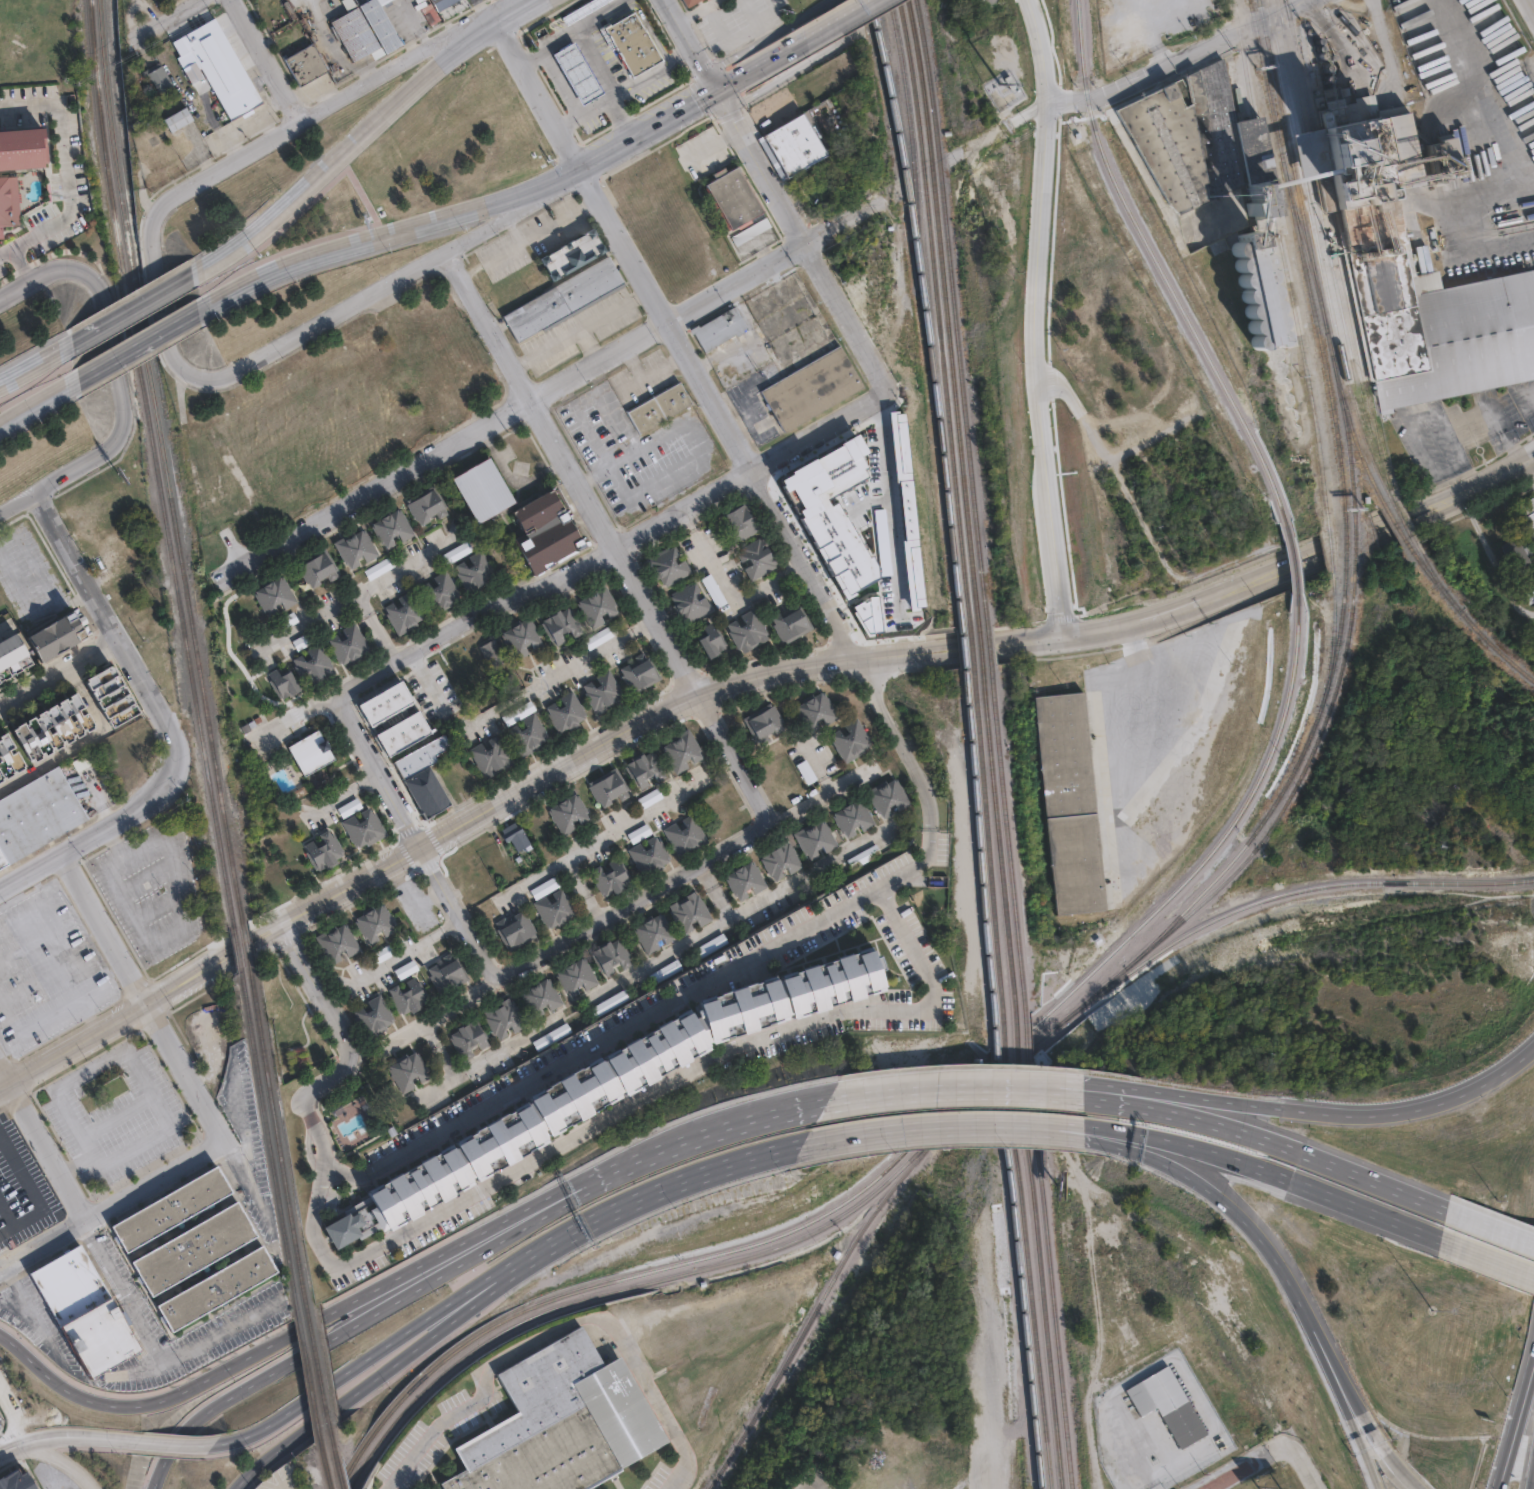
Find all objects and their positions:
building: (690, 2)
building: (448, 4)
road: (1530, 5)
road: (517, 10)
building: (583, 10)
road: (175, 18)
building: (370, 29)
road: (572, 29)
railway: (1352, 34)
road: (821, 37)
power tower: (1528, 38)
building: (630, 41)
road: (697, 48)
road: (677, 54)
road: (1177, 56)
road: (273, 62)
building: (310, 62)
building: (223, 66)
building: (192, 73)
building: (577, 74)
gas station: (577, 74)
building: (157, 79)
road: (641, 82)
road: (741, 85)
road: (613, 88)
road: (540, 93)
traffic signals: (725, 97)
road: (328, 113)
road: (583, 114)
road: (1490, 117)
building: (176, 120)
railway: (101, 126)
road: (655, 135)
railway: (899, 138)
building: (791, 144)
building: (20, 145)
railway: (1289, 151)
road: (349, 152)
road: (69, 171)
building: (1209, 175)
building: (730, 195)
building: (9, 200)
building: (1374, 225)
road: (545, 227)
road: (1453, 233)
road: (396, 235)
railway: (1333, 236)
building: (755, 238)
road: (807, 239)
railway: (1304, 242)
railway: (1327, 251)
building: (570, 252)
railway: (1319, 252)
railway: (1301, 254)
railway: (1155, 265)
road: (19, 266)
road: (405, 279)
building: (563, 297)
road: (170, 309)
railway: (955, 311)
railway: (937, 312)
railway: (947, 312)
railway: (925, 313)
road: (136, 314)
road: (1034, 317)
railway: (132, 322)
road: (583, 328)
building: (718, 329)
railway: (1328, 337)
road: (589, 346)
road: (151, 348)
road: (115, 356)
road: (38, 367)
railway: (1305, 373)
road: (648, 374)
building: (400, 377)
road: (553, 387)
building: (812, 387)
road: (41, 405)
building: (660, 406)
road: (720, 411)
road: (1500, 433)
railway: (1346, 440)
railway: (1354, 440)
road: (1530, 457)
railway: (163, 461)
road: (1530, 465)
road: (1493, 475)
road: (513, 481)
building: (485, 489)
road: (18, 505)
building: (425, 508)
road: (884, 508)
railway: (1397, 509)
building: (828, 512)
railway: (1401, 520)
building: (740, 521)
building: (1527, 521)
railway: (1395, 524)
building: (389, 529)
building: (548, 530)
railway: (1353, 535)
railway: (1344, 536)
road: (615, 537)
railway: (1328, 540)
building: (353, 547)
road: (1327, 550)
building: (455, 552)
building: (758, 556)
railway: (1291, 558)
road: (1491, 558)
building: (113, 562)
building: (669, 564)
road: (78, 566)
building: (378, 567)
road: (583, 568)
building: (1519, 568)
road: (35, 569)
building: (315, 570)
railway: (1430, 570)
building: (473, 578)
building: (712, 590)
building: (437, 591)
road: (363, 592)
building: (272, 595)
building: (688, 600)
building: (1530, 602)
building: (596, 604)
road: (33, 613)
building: (401, 613)
railway: (1465, 616)
building: (789, 619)
road: (308, 624)
building: (561, 625)
railway: (1333, 628)
road: (5, 629)
building: (746, 629)
building: (55, 633)
building: (521, 635)
building: (599, 637)
building: (713, 638)
building: (347, 644)
railway: (987, 644)
railway: (979, 645)
railway: (970, 646)
railway: (961, 647)
building: (492, 652)
building: (13, 658)
railway: (188, 658)
building: (311, 664)
building: (639, 669)
road: (60, 672)
building: (283, 684)
road: (710, 688)
building: (601, 691)
building: (109, 692)
road: (152, 699)
building: (386, 702)
building: (567, 710)
building: (814, 711)
building: (764, 723)
building: (50, 725)
building: (528, 734)
building: (851, 738)
building: (1219, 739)
building: (681, 750)
building: (308, 752)
building: (493, 753)
building: (7, 756)
building: (84, 762)
building: (644, 768)
building: (805, 771)
road: (918, 777)
railway: (1287, 780)
building: (424, 783)
building: (607, 786)
building: (648, 798)
building: (889, 799)
building: (1069, 811)
building: (569, 812)
building: (37, 814)
building: (853, 818)
railway: (1271, 824)
building: (363, 826)
building: (639, 832)
building: (686, 834)
road: (94, 835)
building: (513, 836)
road: (603, 837)
building: (815, 839)
railway: (1006, 841)
road: (415, 844)
railway: (998, 845)
building: (321, 849)
railway: (988, 851)
railway: (980, 853)
building: (651, 854)
building: (864, 856)
building: (779, 862)
building: (612, 877)
road: (530, 880)
building: (745, 880)
road: (714, 894)
railway: (1283, 894)
building: (557, 907)
road: (628, 908)
building: (688, 912)
road: (736, 916)
railway: (1148, 916)
building: (372, 923)
building: (518, 929)
building: (653, 931)
building: (335, 943)
railway: (246, 944)
building: (711, 944)
railway: (236, 948)
road: (912, 948)
building: (382, 953)
road: (406, 953)
building: (610, 955)
building: (405, 969)
building: (665, 971)
building: (445, 973)
building: (576, 976)
building: (410, 994)
building: (540, 997)
road: (141, 998)
building: (610, 1002)
road: (139, 1005)
road: (51, 1013)
building: (372, 1017)
building: (503, 1019)
building: (552, 1036)
building: (467, 1037)
road: (600, 1039)
railway: (1026, 1039)
road: (347, 1047)
railway: (1018, 1047)
road: (117, 1055)
road: (363, 1058)
railway: (1006, 1058)
railway: (997, 1063)
railway: (1007, 1068)
building: (409, 1071)
building: (599, 1085)
road: (961, 1085)
road: (1095, 1091)
road: (1147, 1104)
road: (1324, 1110)
road: (950, 1130)
road: (698, 1137)
road: (1113, 1137)
railway: (275, 1139)
road: (575, 1140)
road: (43, 1142)
railway: (268, 1143)
road: (1323, 1161)
road: (1294, 1185)
parking lot: (19, 1189)
road: (111, 1204)
road: (631, 1205)
building: (168, 1207)
road: (1471, 1212)
road: (525, 1215)
road: (523, 1222)
road: (1510, 1225)
railway: (823, 1226)
road: (1510, 1228)
railway: (783, 1233)
building: (191, 1247)
road: (1492, 1249)
road: (1277, 1250)
railway: (1049, 1274)
railway: (1039, 1278)
railway: (1028, 1284)
building: (214, 1286)
railway: (1019, 1288)
railway: (819, 1299)
building: (83, 1309)
railway: (473, 1336)
road: (159, 1337)
railway: (483, 1343)
road: (300, 1356)
road: (241, 1362)
railway: (316, 1373)
railway: (306, 1377)
road: (347, 1377)
road: (349, 1393)
building: (1169, 1406)
road: (14, 1409)
road: (1513, 1421)
road: (1, 1422)
building: (556, 1423)
parking lot: (444, 1432)
road: (74, 1437)
road: (175, 1442)
road: (1128, 1446)
road: (11, 1447)
road: (1365, 1450)
road: (1388, 1451)
railway: (331, 1452)
road: (404, 1454)
road: (63, 1457)
railway: (322, 1463)
road: (1302, 1463)
road: (1241, 1468)
parking lot: (289, 1474)
parking lot: (664, 1478)
railway: (338, 1479)
building: (15, 1481)
railway: (327, 1487)

